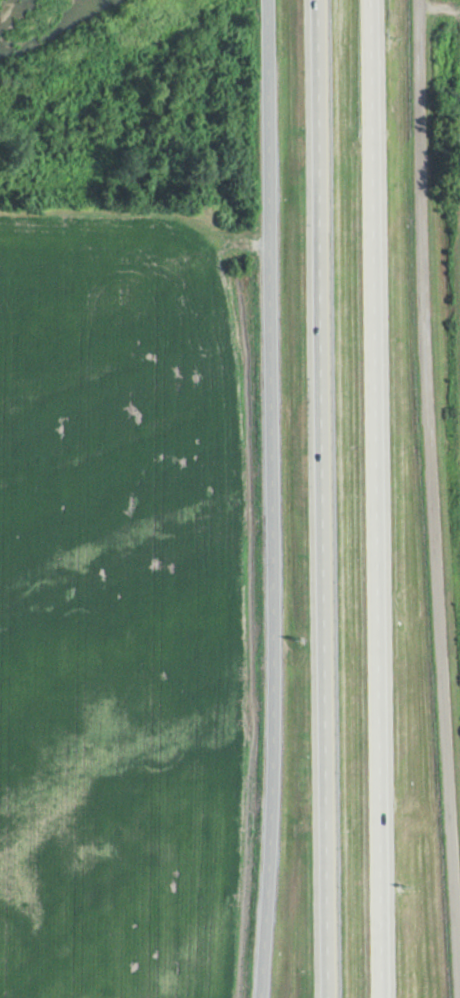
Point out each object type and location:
road: (435, 465)
road: (323, 498)
road: (279, 499)
road: (378, 499)

